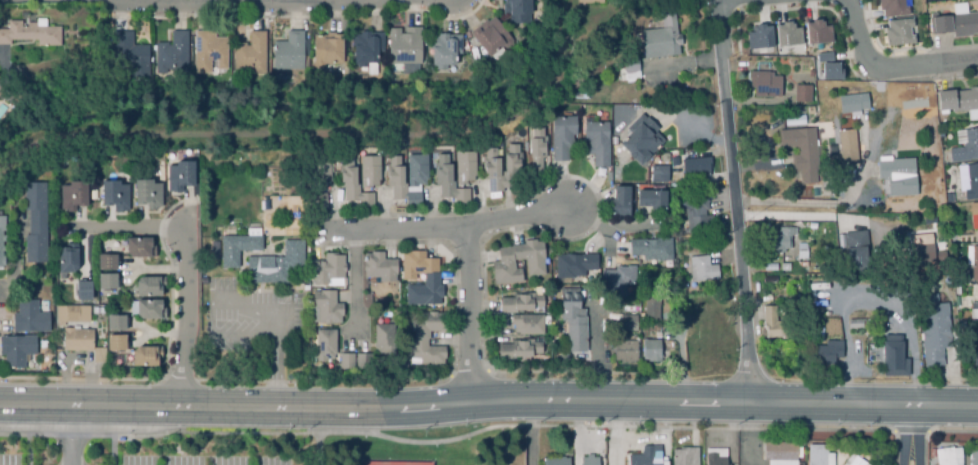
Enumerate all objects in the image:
road: (723, 0)
building: (589, 1)
building: (892, 7)
building: (516, 10)
building: (955, 22)
building: (817, 32)
building: (898, 32)
building: (30, 33)
building: (787, 34)
building: (490, 36)
building: (758, 36)
building: (660, 38)
building: (403, 46)
building: (366, 47)
building: (325, 49)
building: (444, 49)
building: (208, 51)
building: (288, 51)
building: (171, 53)
building: (250, 53)
building: (129, 54)
building: (823, 56)
road: (889, 67)
building: (831, 70)
building: (630, 71)
building: (764, 84)
building: (802, 93)
building: (959, 101)
building: (853, 103)
building: (561, 137)
building: (640, 138)
building: (596, 141)
building: (846, 145)
building: (965, 145)
building: (536, 149)
building: (801, 151)
building: (673, 161)
building: (464, 166)
building: (695, 167)
building: (490, 168)
building: (319, 170)
building: (368, 171)
building: (658, 174)
building: (896, 174)
building: (179, 175)
building: (269, 177)
building: (968, 180)
building: (415, 181)
building: (448, 181)
building: (351, 184)
building: (147, 193)
building: (113, 194)
building: (72, 195)
building: (948, 197)
building: (650, 199)
building: (317, 201)
building: (618, 201)
road: (733, 201)
building: (267, 202)
road: (822, 203)
building: (695, 210)
building: (973, 215)
building: (34, 222)
road: (124, 229)
road: (451, 232)
building: (1, 236)
building: (781, 239)
building: (138, 247)
building: (236, 247)
building: (650, 248)
building: (920, 248)
building: (214, 249)
building: (801, 250)
building: (855, 251)
building: (66, 258)
building: (105, 261)
building: (274, 263)
building: (415, 263)
building: (974, 263)
building: (501, 264)
building: (573, 264)
building: (770, 266)
building: (784, 266)
building: (378, 267)
building: (701, 268)
building: (327, 269)
building: (617, 279)
building: (769, 279)
building: (106, 280)
building: (202, 280)
building: (148, 285)
road: (355, 285)
building: (82, 290)
building: (424, 291)
building: (687, 291)
building: (380, 300)
building: (518, 301)
building: (977, 303)
building: (649, 306)
building: (325, 307)
building: (148, 309)
building: (72, 316)
road: (185, 316)
building: (28, 317)
road: (466, 317)
building: (572, 319)
building: (100, 320)
building: (819, 320)
building: (627, 322)
building: (115, 323)
building: (526, 323)
building: (855, 323)
building: (426, 324)
building: (773, 324)
building: (933, 333)
building: (76, 339)
building: (383, 339)
building: (115, 342)
building: (324, 344)
building: (517, 348)
building: (16, 349)
building: (650, 349)
building: (624, 350)
building: (425, 352)
building: (975, 352)
road: (597, 353)
building: (825, 353)
building: (98, 354)
building: (145, 355)
building: (892, 356)
road: (76, 359)
road: (274, 359)
building: (362, 359)
building: (345, 360)
road: (488, 401)
road: (611, 427)
road: (910, 433)
road: (69, 434)
road: (28, 449)
road: (113, 450)
park: (256, 450)
road: (317, 450)
building: (779, 452)
building: (815, 454)
building: (646, 457)
building: (685, 457)
building: (946, 457)
building: (973, 458)
parking lot: (9, 459)
parking lot: (203, 460)
building: (714, 460)
building: (588, 461)
building: (556, 462)
building: (855, 462)

